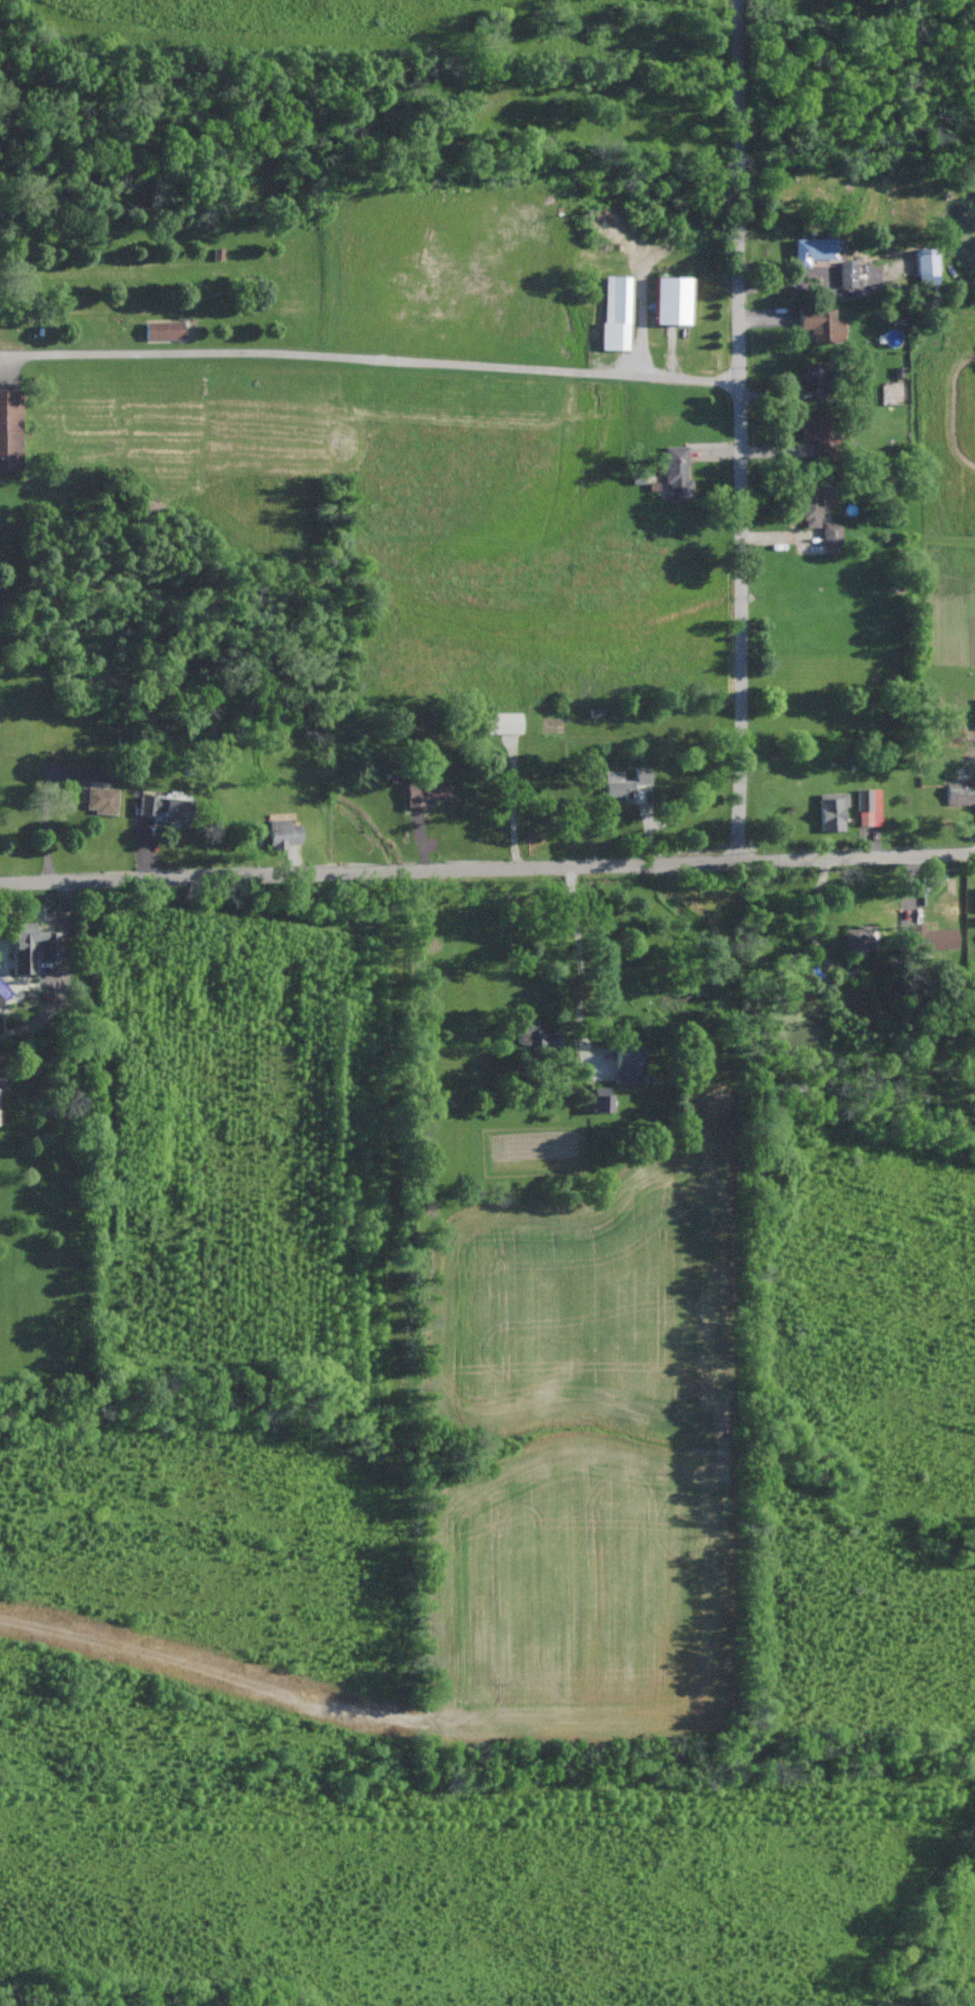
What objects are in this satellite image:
road: (738, 63)
building: (814, 249)
building: (927, 265)
building: (848, 273)
road: (784, 281)
building: (672, 300)
building: (617, 312)
building: (822, 324)
building: (164, 330)
road: (369, 358)
building: (817, 378)
building: (9, 430)
building: (822, 434)
building: (678, 473)
road: (739, 493)
building: (815, 497)
building: (832, 533)
building: (503, 723)
building: (627, 782)
building: (961, 791)
building: (427, 792)
building: (100, 799)
building: (167, 806)
building: (869, 807)
building: (832, 810)
building: (283, 833)
road: (855, 857)
road: (367, 870)
building: (861, 938)
building: (933, 938)
road: (577, 940)
building: (34, 946)
building: (535, 1034)
building: (628, 1065)
building: (603, 1099)

